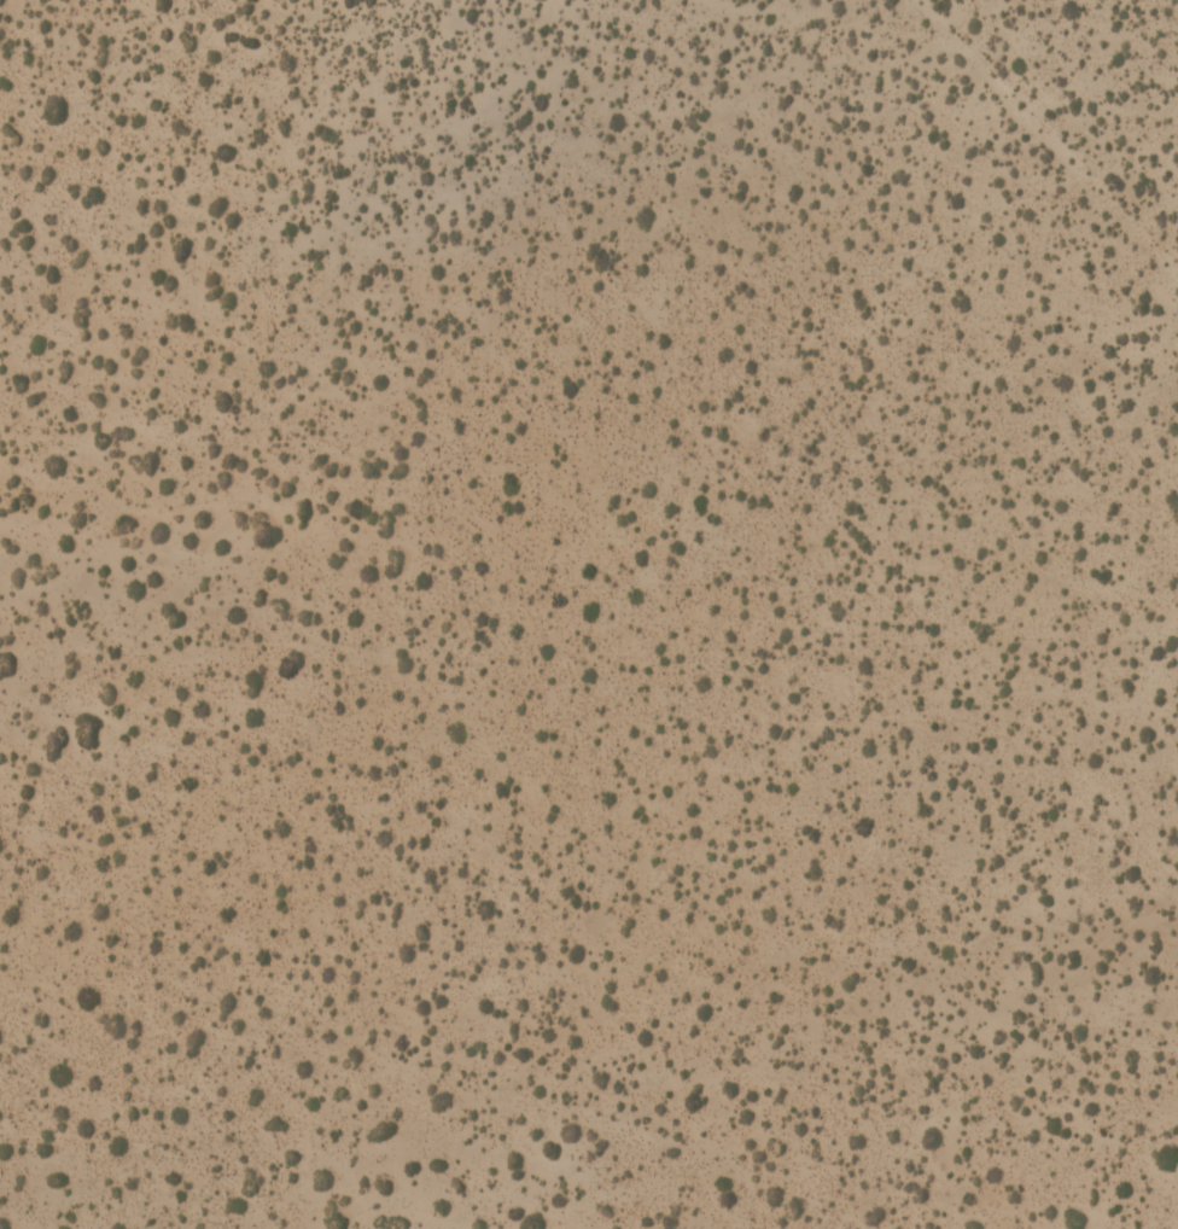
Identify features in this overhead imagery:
road: (1045, 140)

